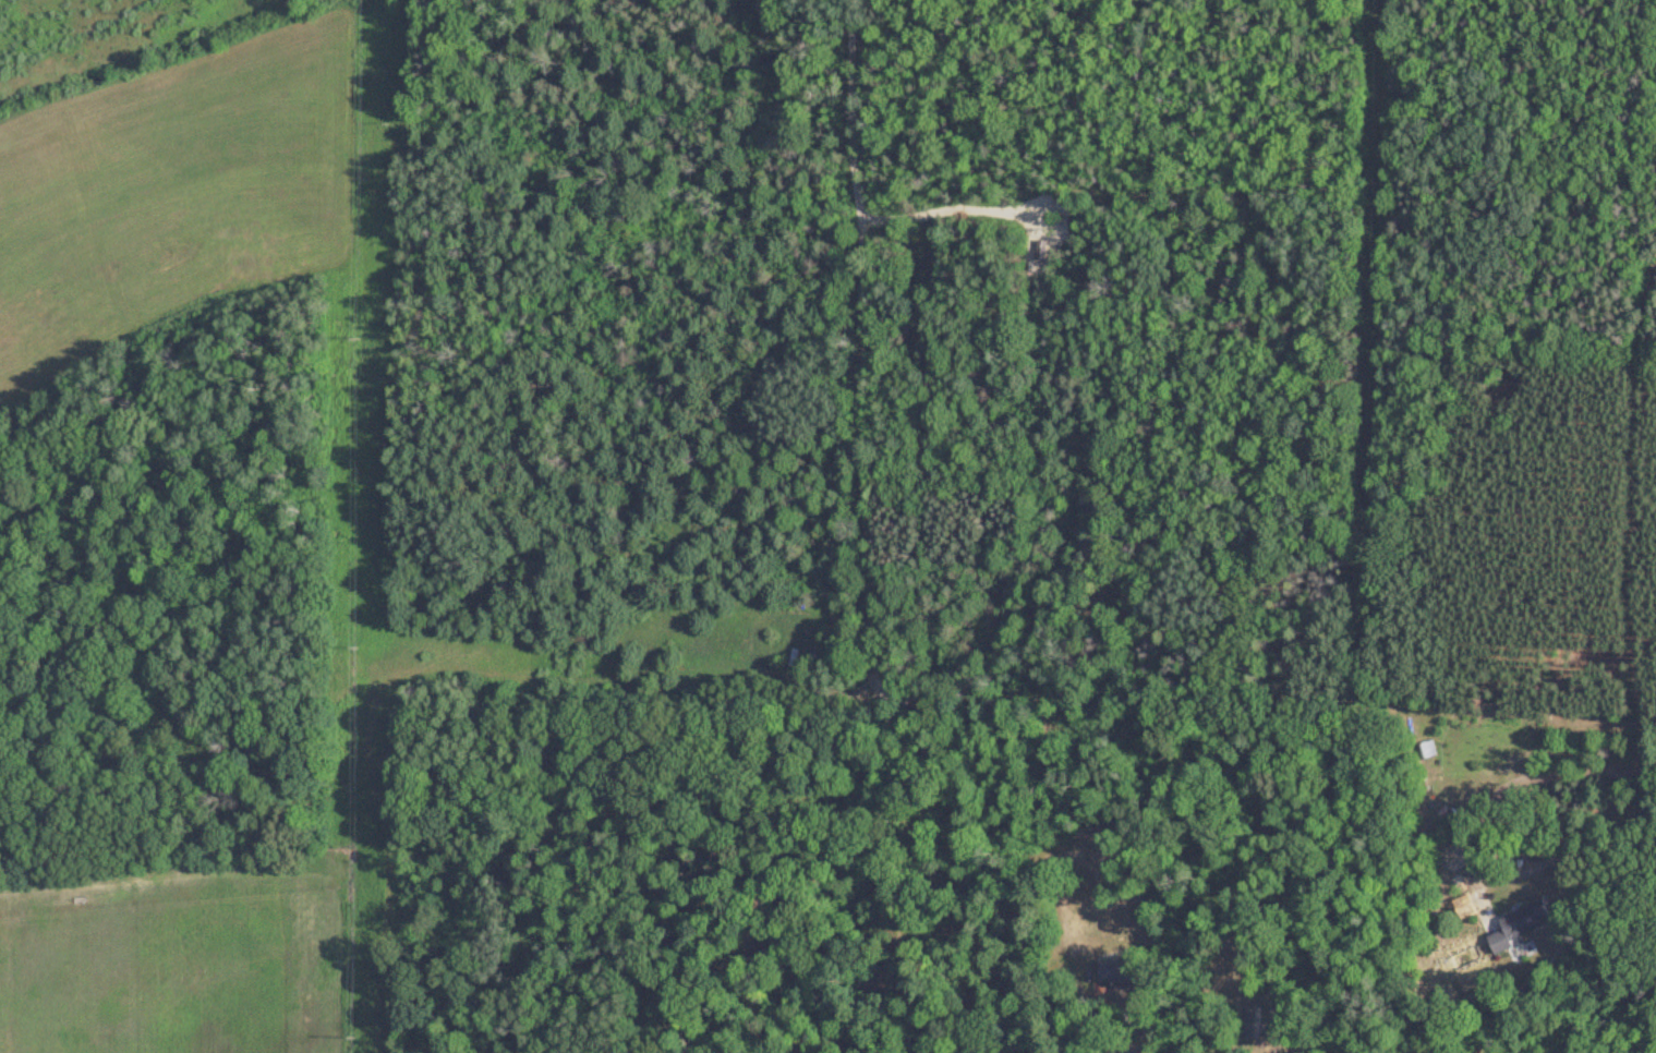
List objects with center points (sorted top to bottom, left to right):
road: (848, 96)
road: (941, 208)
building: (1467, 906)
building: (1516, 927)

